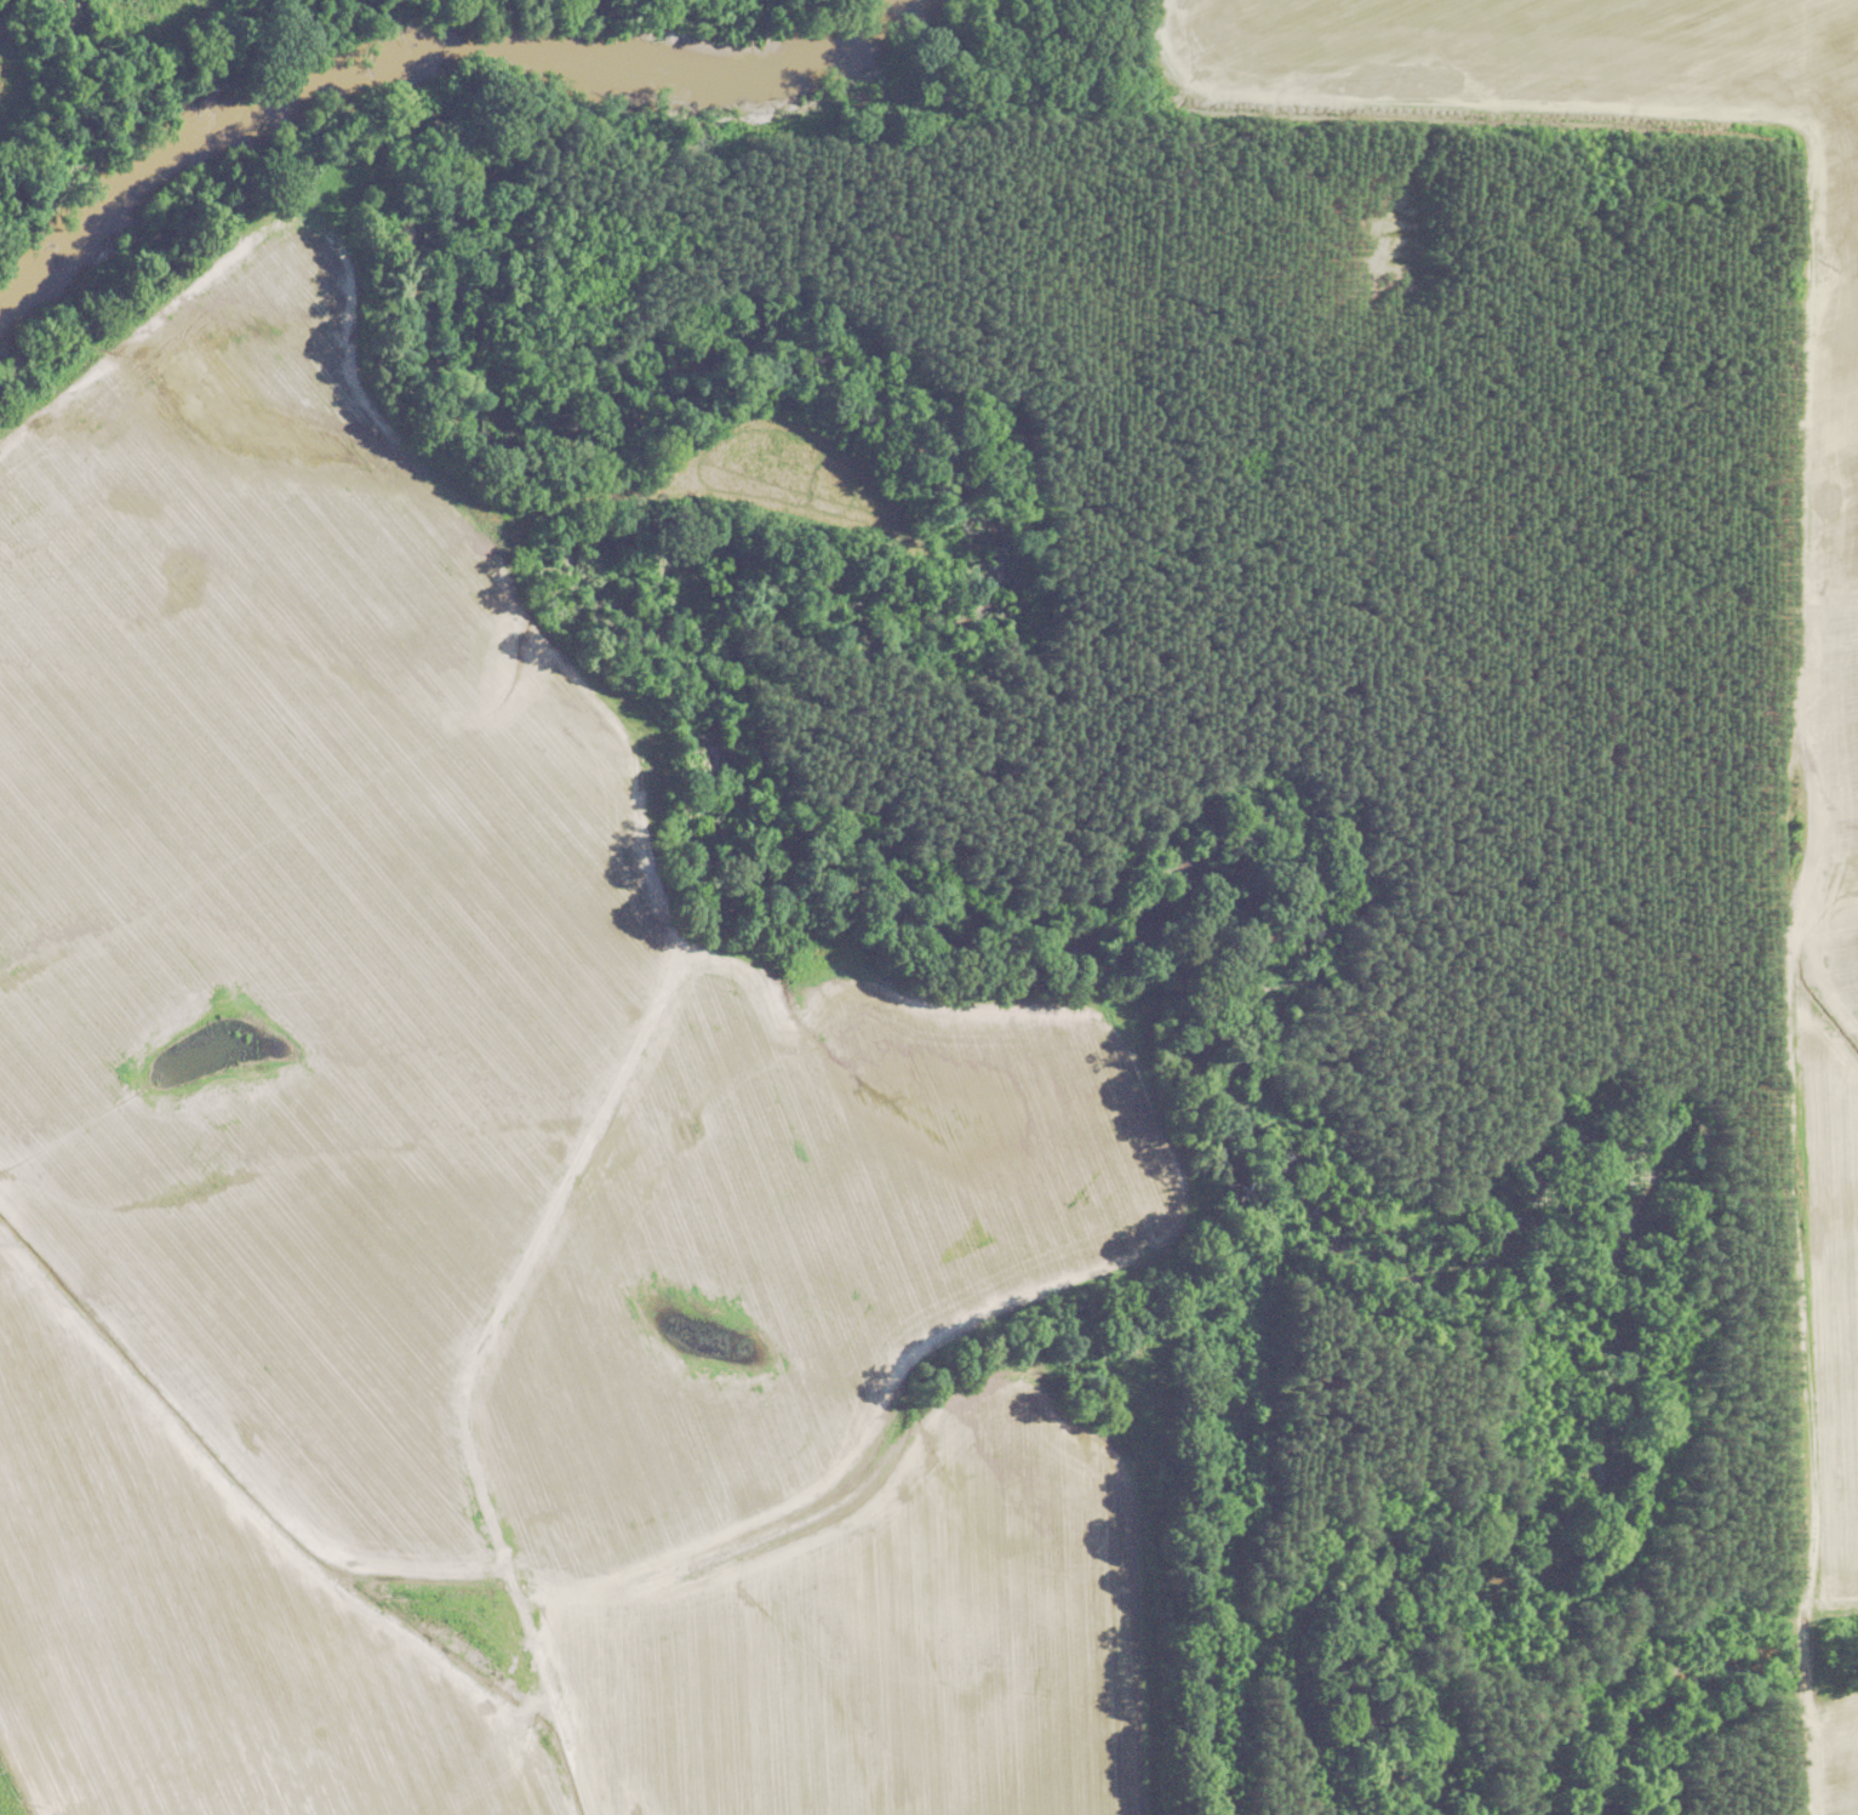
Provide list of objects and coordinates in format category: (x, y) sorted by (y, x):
river: (402, 52)

